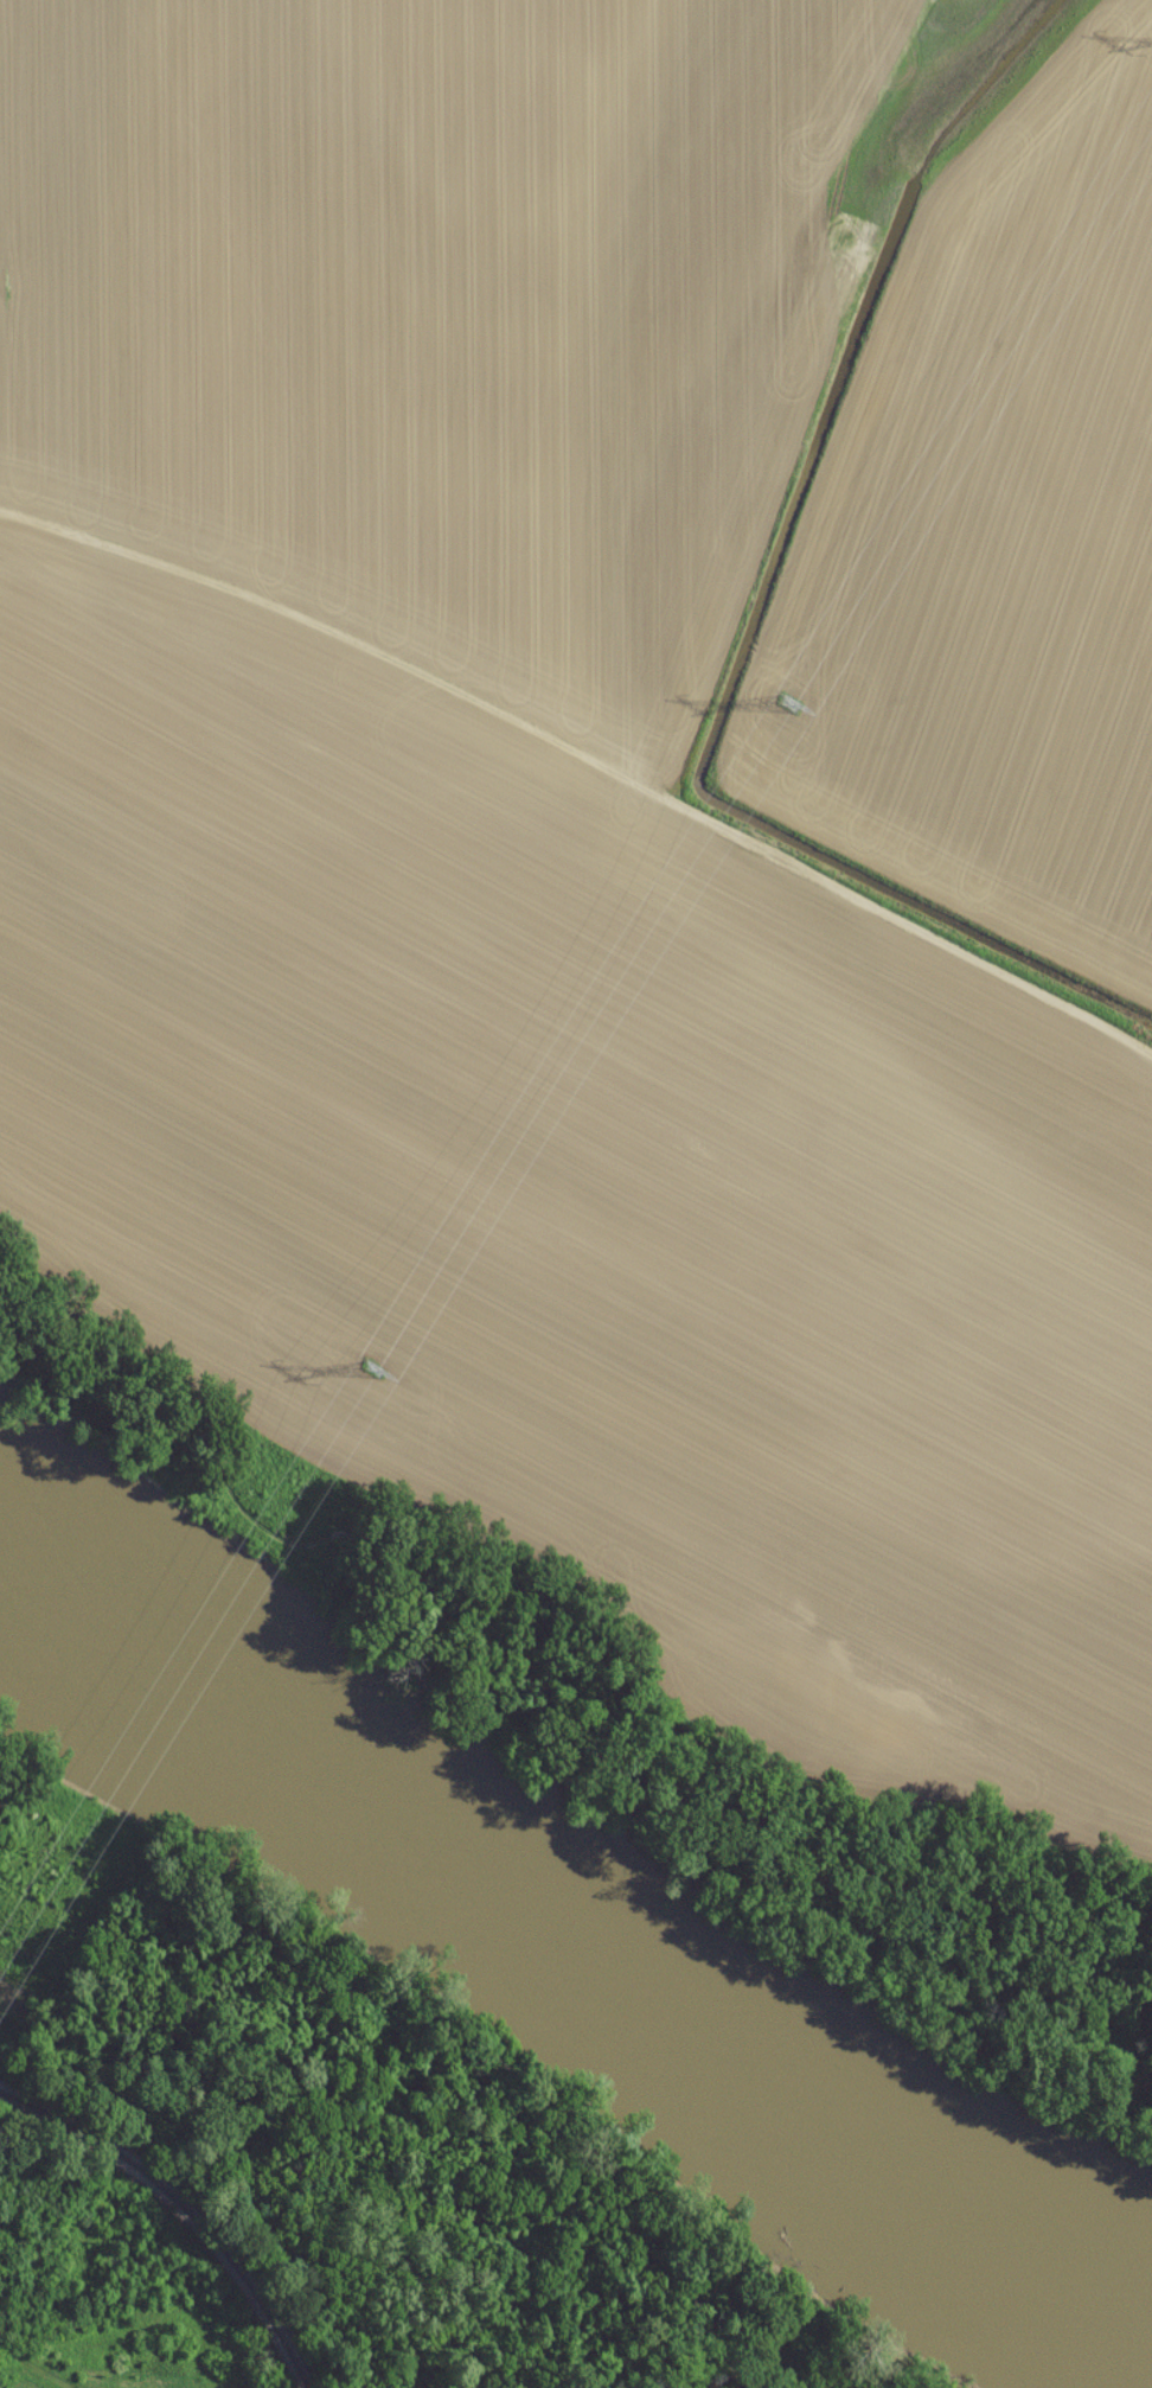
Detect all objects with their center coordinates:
power tower: (785, 708)
road: (587, 762)
power tower: (371, 1377)
river: (567, 1932)
railway: (180, 2217)

